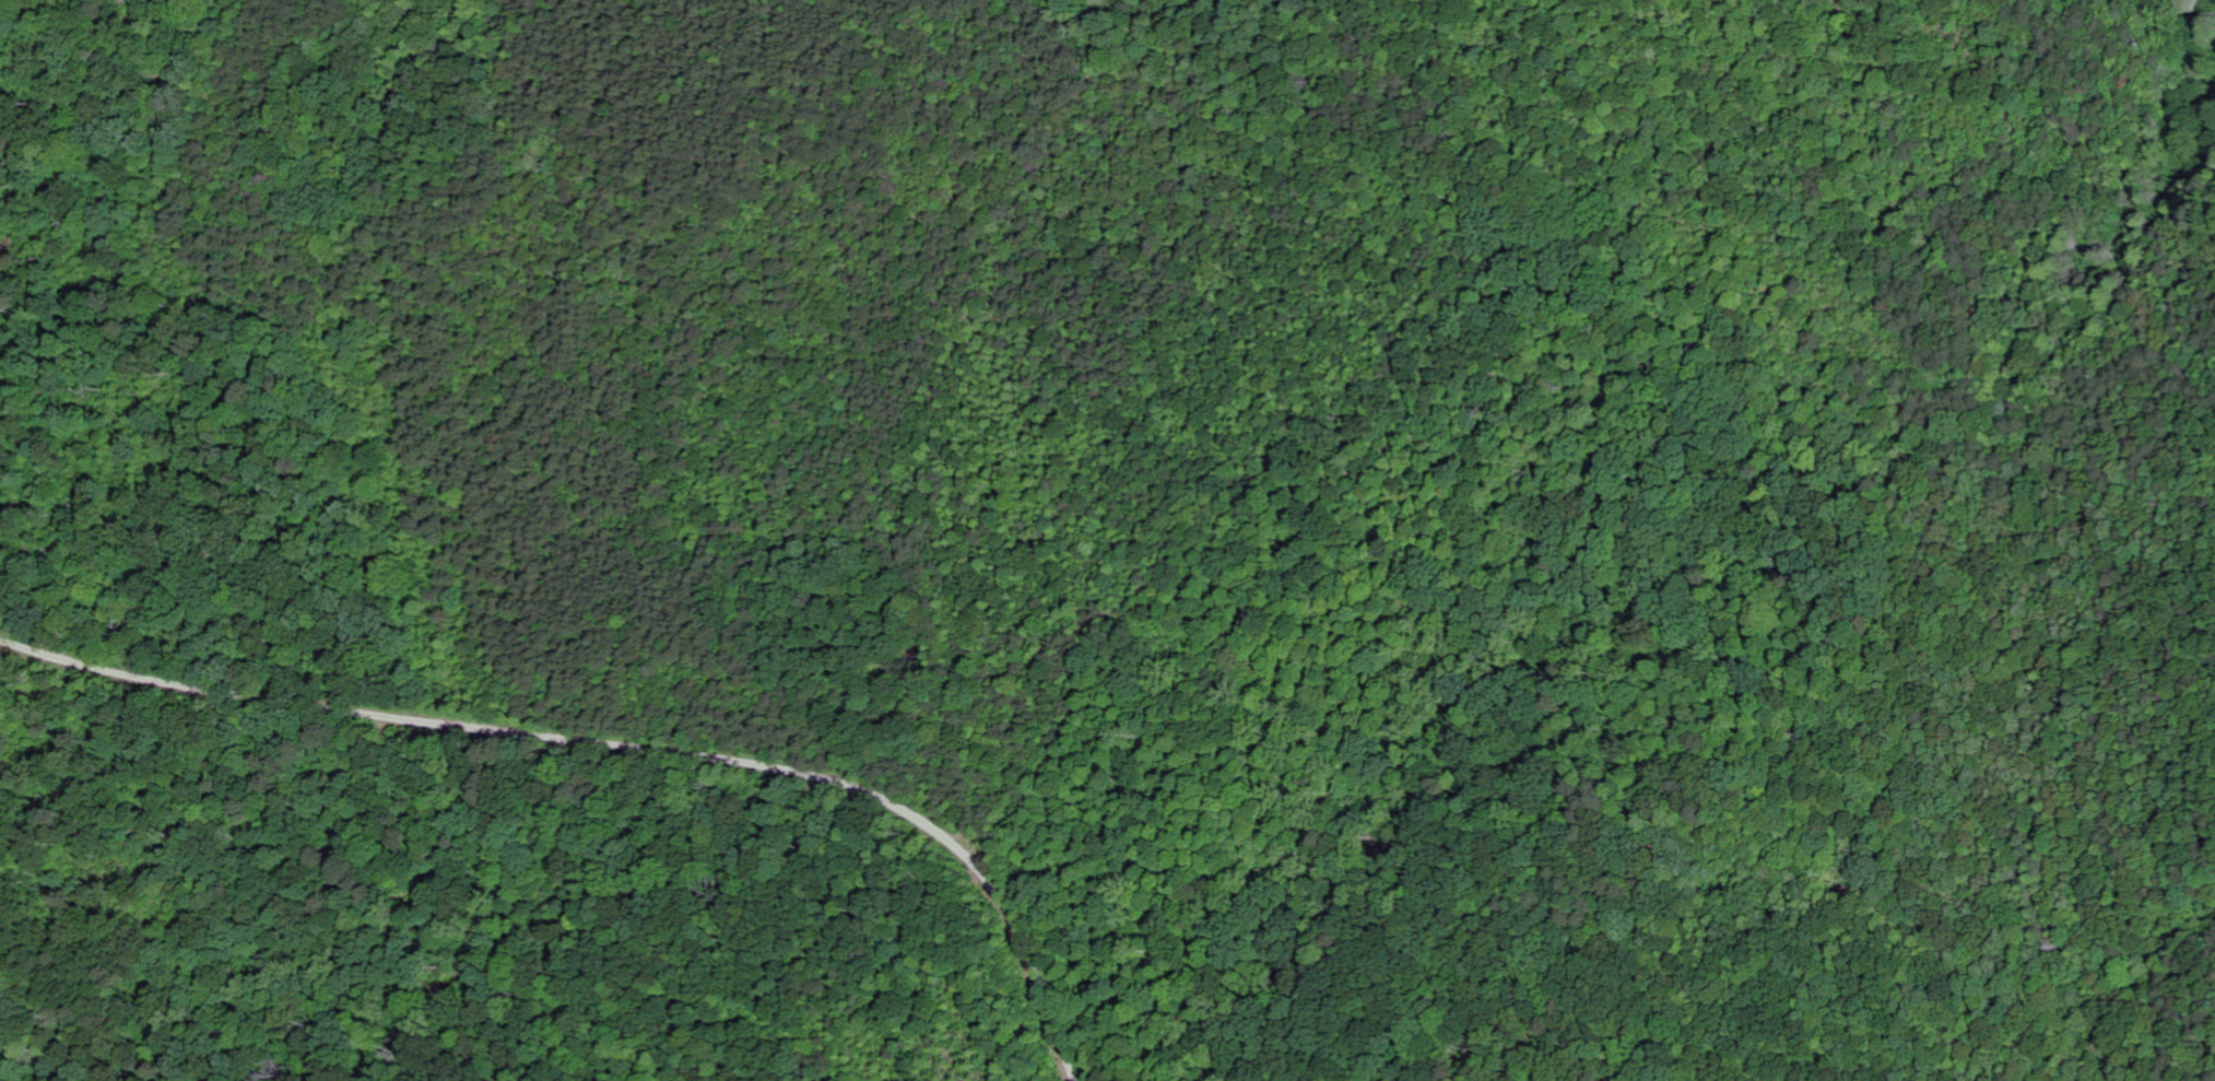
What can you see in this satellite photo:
park: (1064, 7)
park: (2210, 15)
park: (450, 31)
road: (614, 743)
park: (19, 1060)

